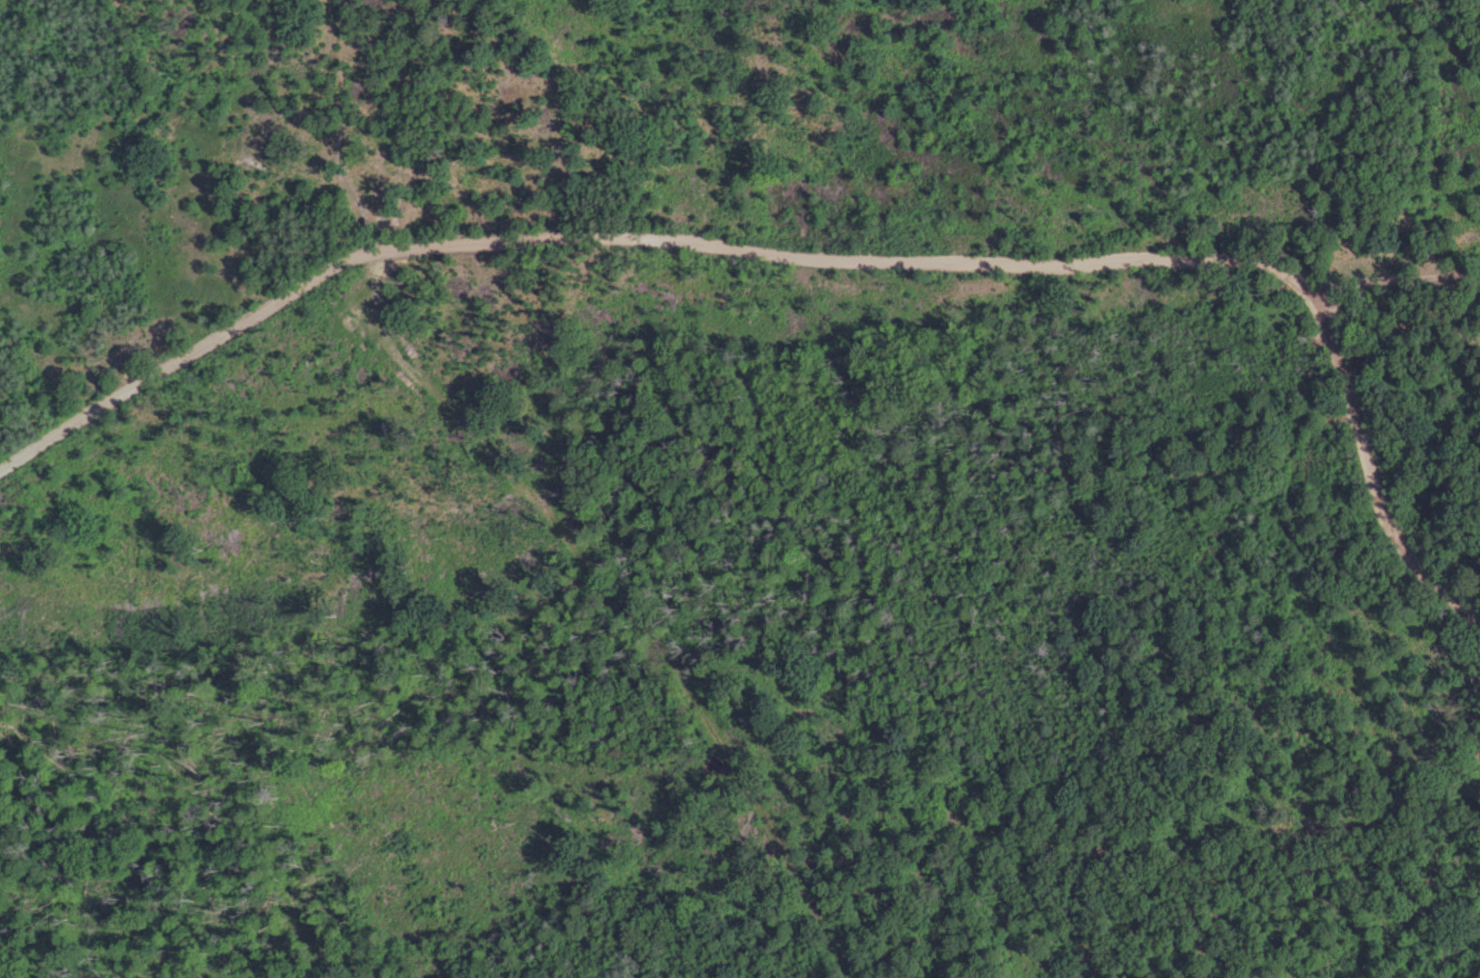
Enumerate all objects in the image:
road: (817, 252)
road: (1404, 283)

